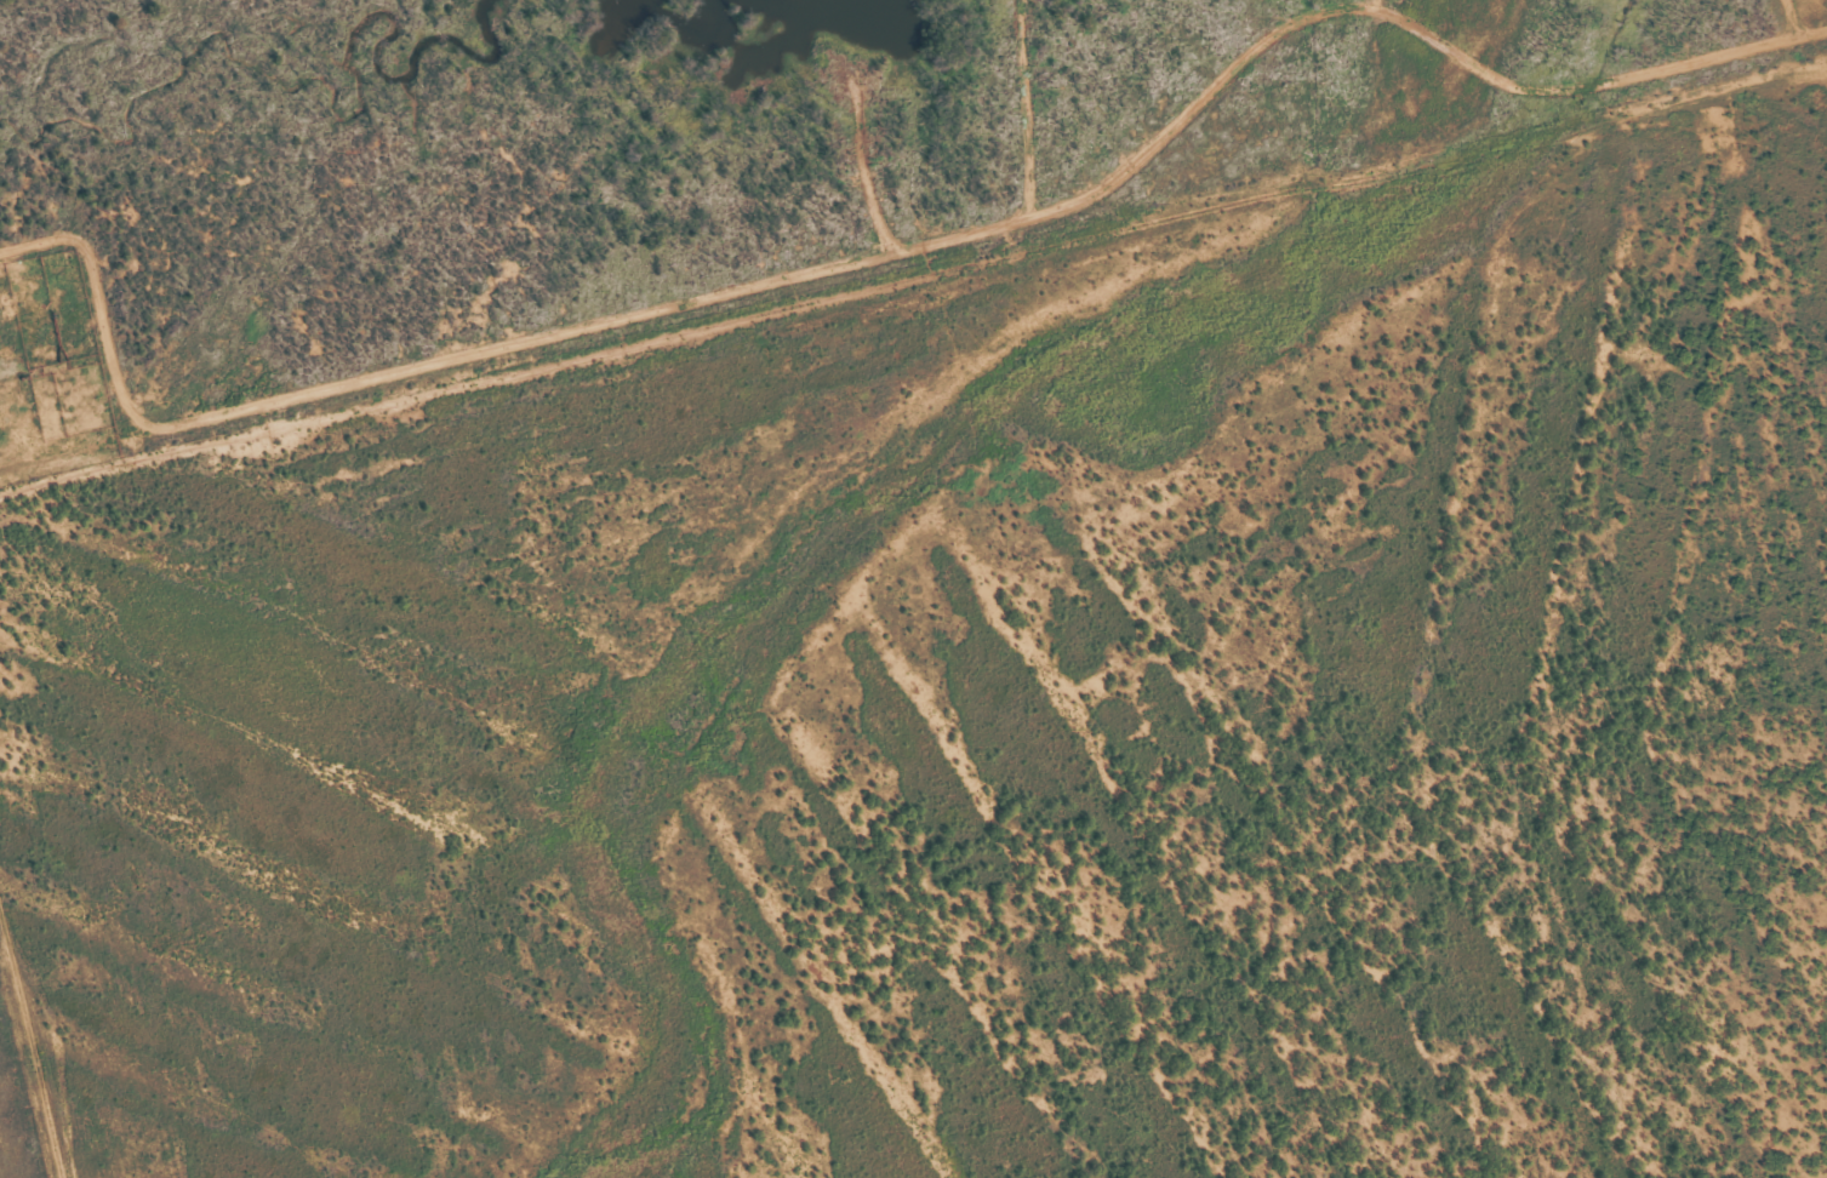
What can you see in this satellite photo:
road: (914, 276)

